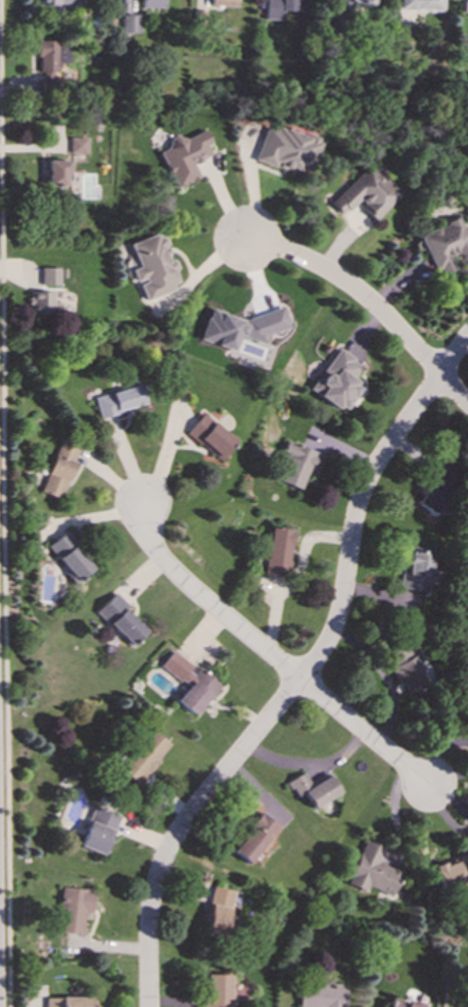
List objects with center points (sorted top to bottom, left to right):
building: (54, 2)
building: (222, 2)
building: (151, 3)
building: (421, 5)
building: (279, 7)
building: (130, 23)
building: (51, 54)
road: (0, 130)
building: (77, 145)
building: (285, 149)
building: (184, 156)
building: (56, 172)
building: (365, 193)
building: (445, 245)
building: (153, 266)
building: (49, 276)
road: (354, 288)
building: (42, 303)
building: (237, 327)
building: (335, 380)
road: (454, 390)
building: (118, 401)
building: (209, 437)
building: (292, 465)
building: (60, 468)
building: (438, 488)
road: (3, 521)
building: (276, 552)
building: (68, 556)
building: (416, 570)
road: (295, 576)
road: (206, 601)
building: (121, 620)
building: (406, 667)
road: (304, 674)
road: (385, 677)
building: (189, 682)
road: (364, 732)
building: (143, 756)
road: (309, 764)
building: (313, 789)
road: (451, 797)
building: (97, 830)
building: (253, 838)
building: (452, 871)
building: (375, 873)
building: (72, 908)
building: (220, 912)
building: (216, 990)
building: (321, 994)
building: (67, 1002)
building: (400, 1003)
building: (467, 1006)

